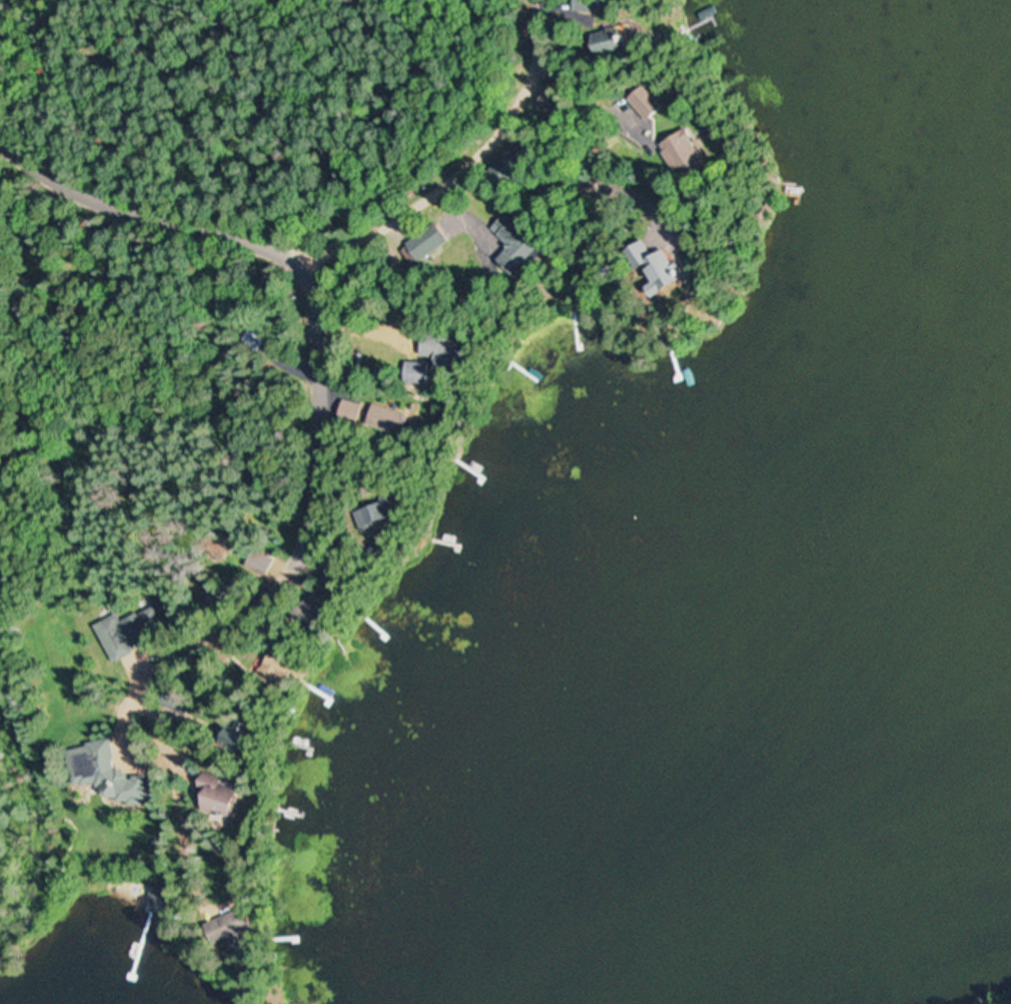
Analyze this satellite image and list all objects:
building: (590, 7)
road: (11, 19)
building: (619, 42)
road: (514, 74)
building: (691, 156)
building: (519, 162)
building: (429, 244)
building: (522, 245)
building: (670, 268)
building: (439, 342)
road: (319, 345)
building: (423, 371)
building: (352, 411)
building: (395, 421)
building: (386, 515)
building: (262, 563)
building: (133, 634)
building: (285, 666)
building: (245, 739)
building: (108, 773)
building: (225, 797)
building: (161, 899)
building: (236, 929)

